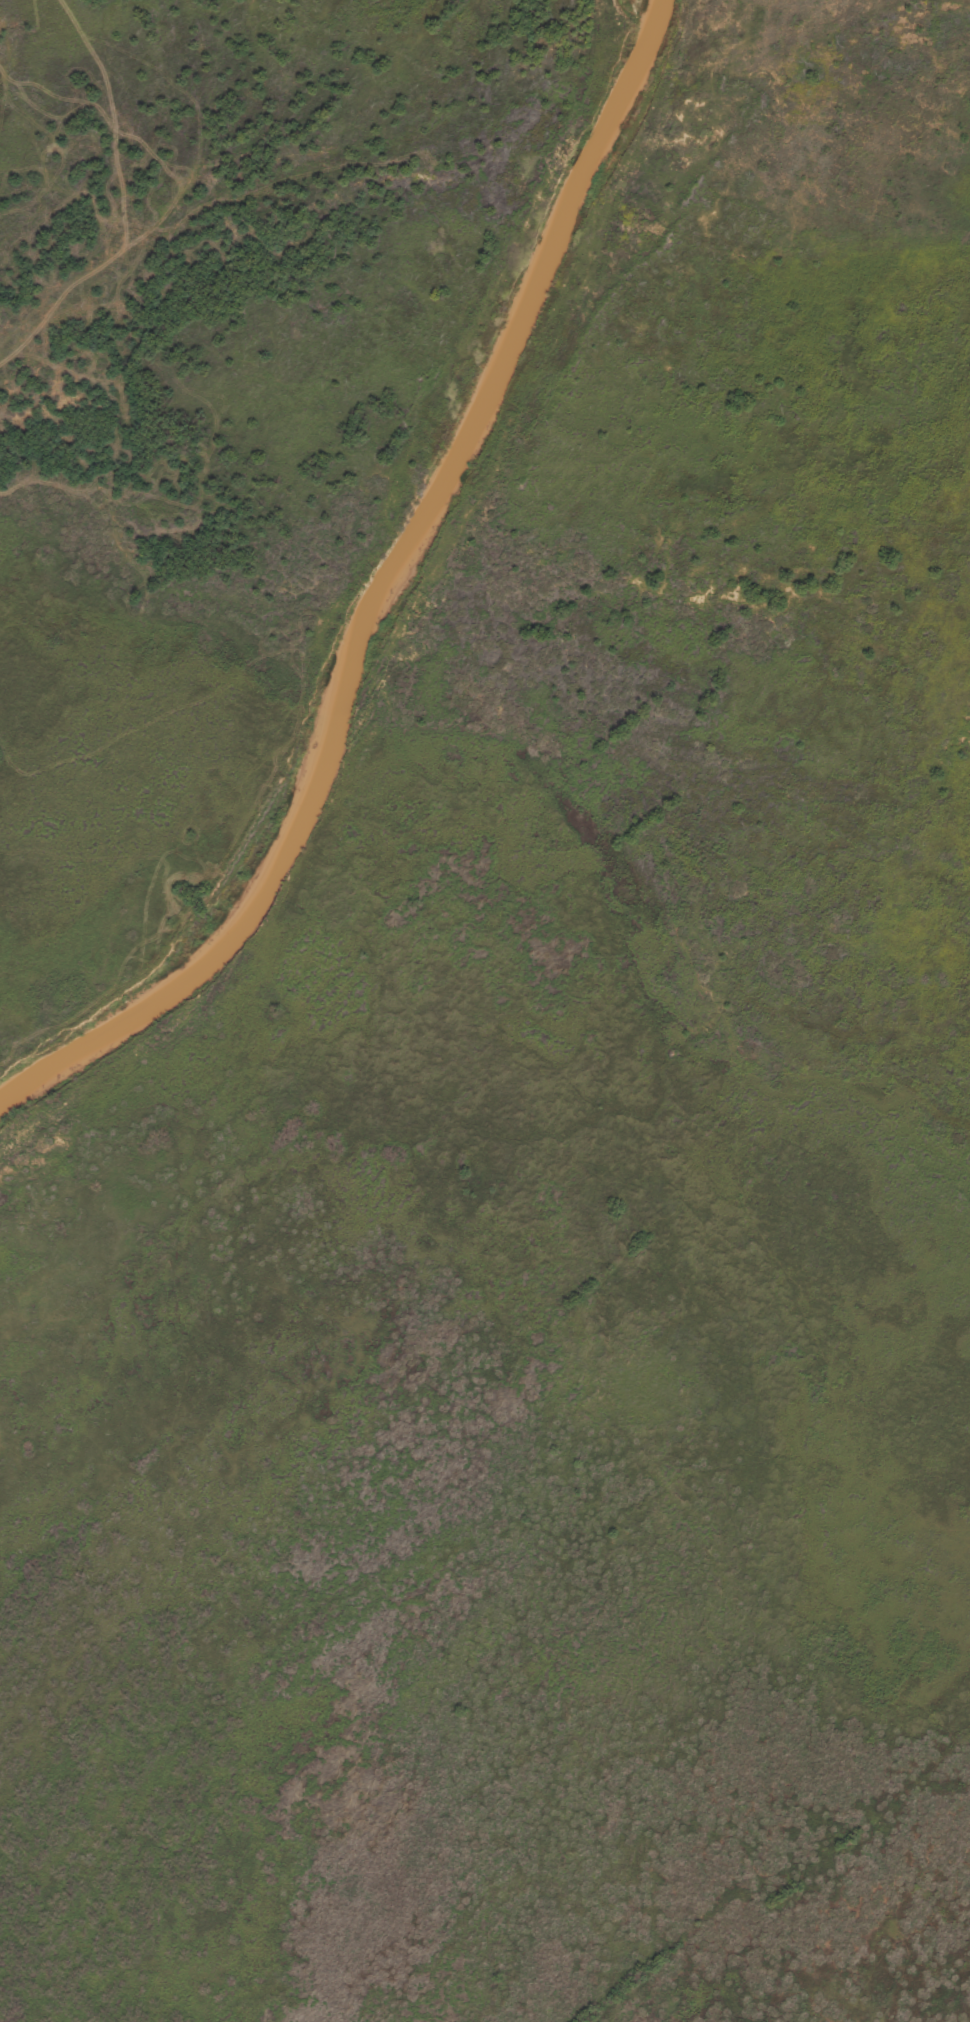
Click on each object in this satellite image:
river: (392, 597)

